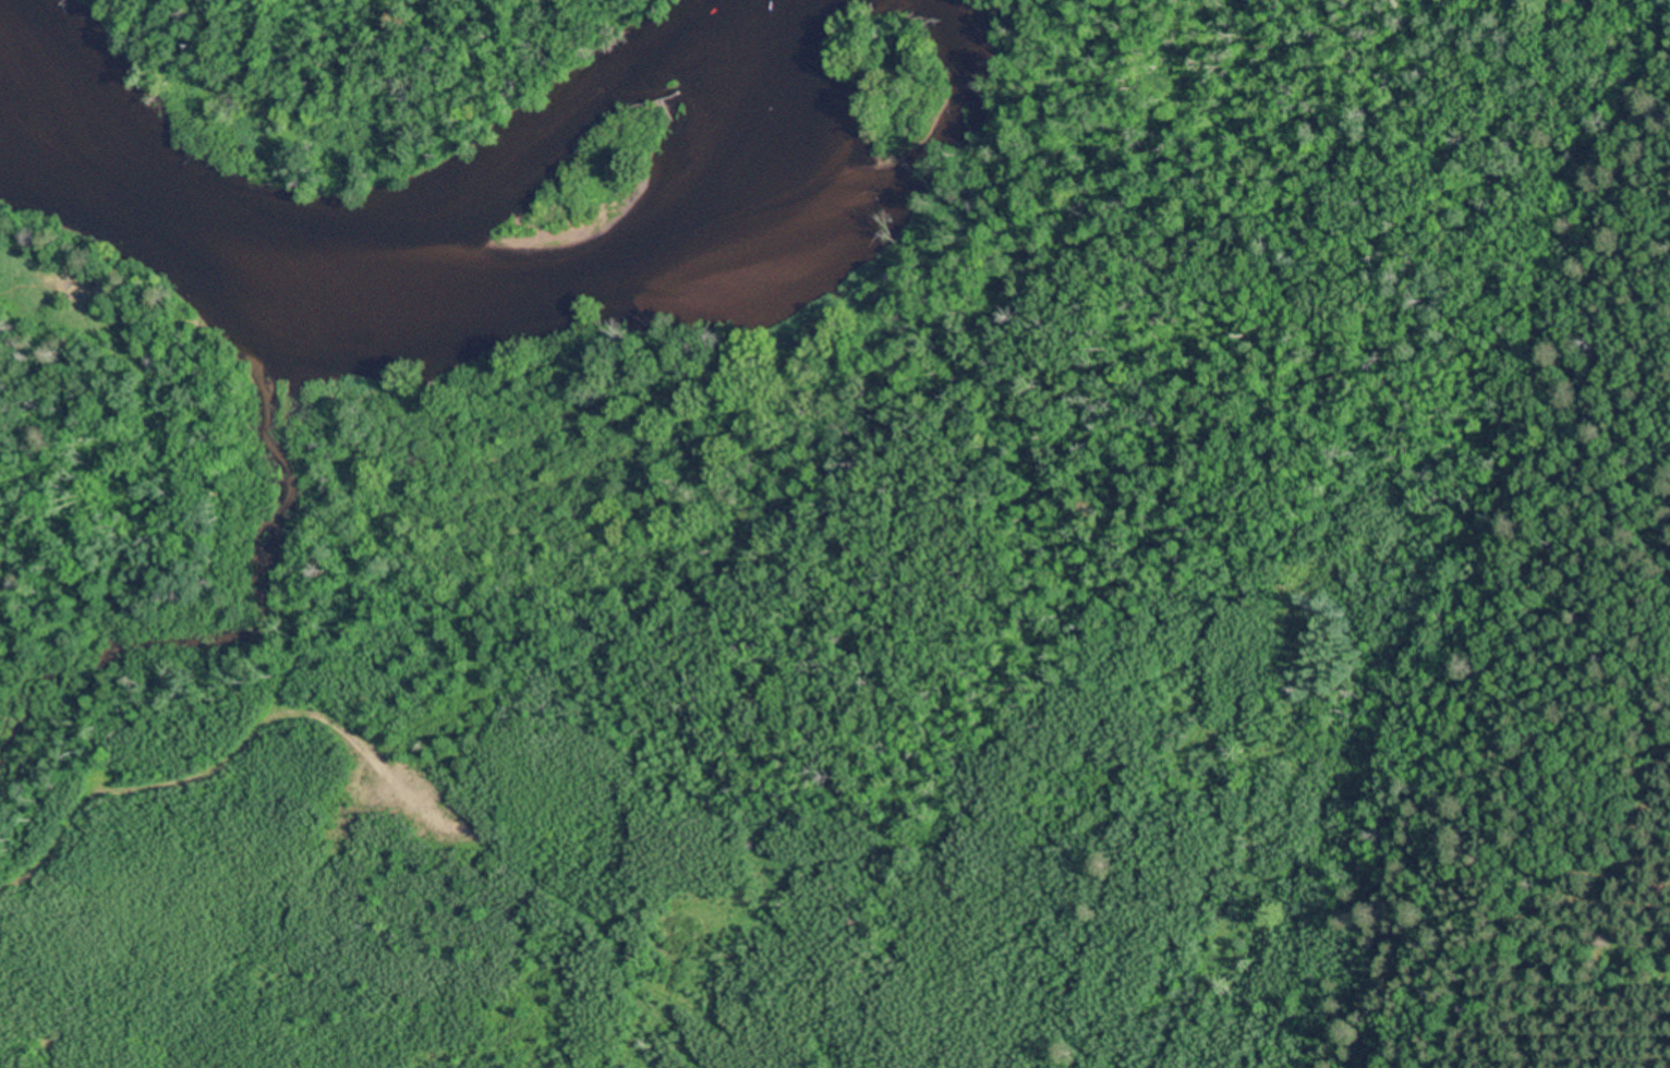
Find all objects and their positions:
river: (122, 178)
river: (619, 269)
road: (189, 784)

